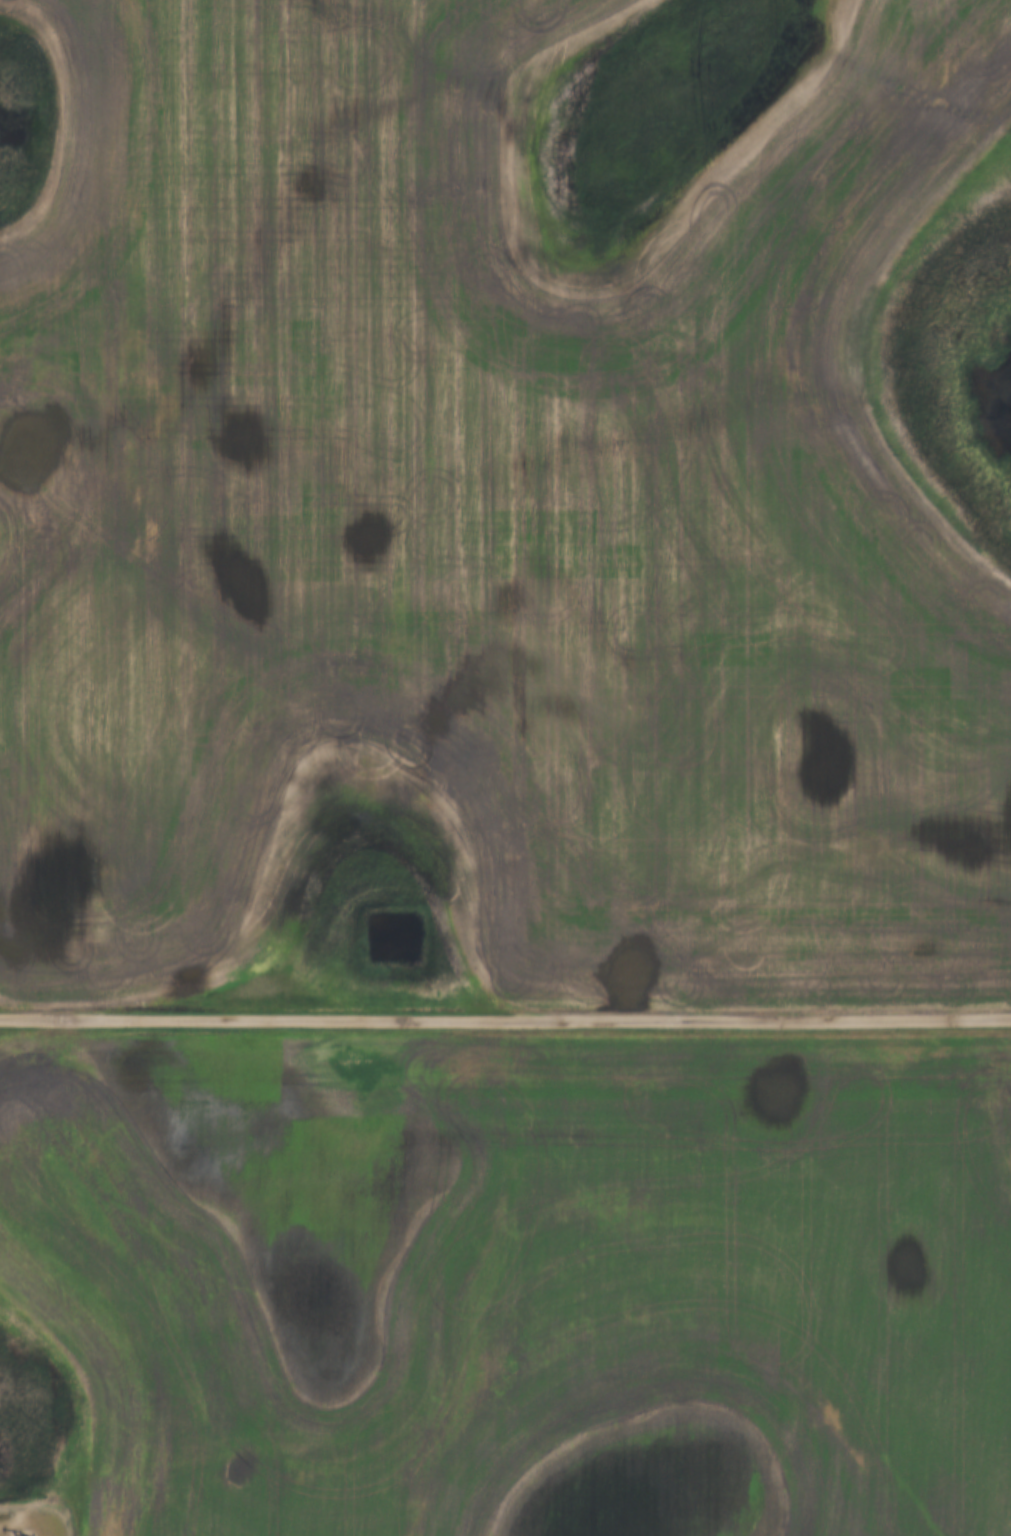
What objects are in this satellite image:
road: (505, 1017)
road: (33, 1513)

